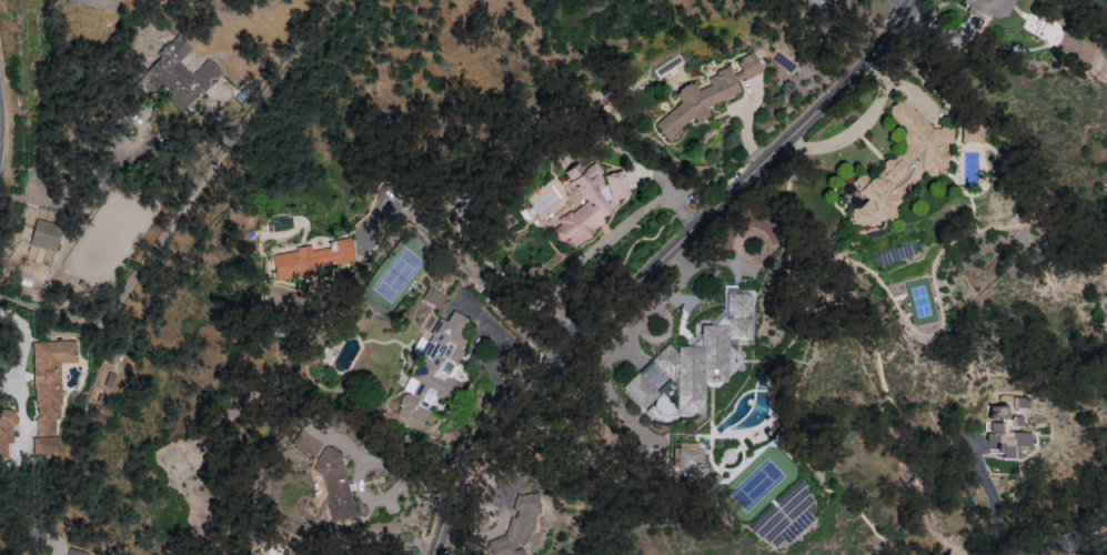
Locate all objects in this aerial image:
building: (92, 3)
road: (897, 7)
building: (990, 7)
building: (181, 75)
building: (705, 94)
road: (137, 117)
road: (858, 129)
building: (969, 132)
building: (899, 165)
building: (587, 200)
road: (190, 204)
road: (73, 205)
building: (43, 234)
building: (309, 259)
road: (664, 264)
road: (466, 271)
building: (432, 296)
road: (657, 303)
building: (695, 360)
building: (434, 367)
building: (49, 382)
building: (1007, 426)
building: (6, 430)
building: (44, 444)
building: (305, 444)
building: (691, 461)
road: (401, 472)
building: (333, 485)
building: (515, 526)
road: (1008, 542)
building: (74, 552)

